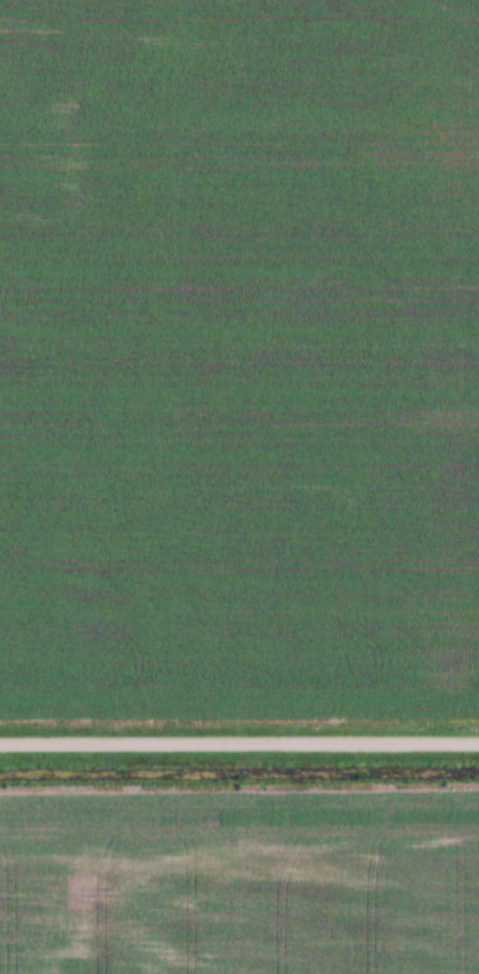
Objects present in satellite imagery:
road: (239, 740)

